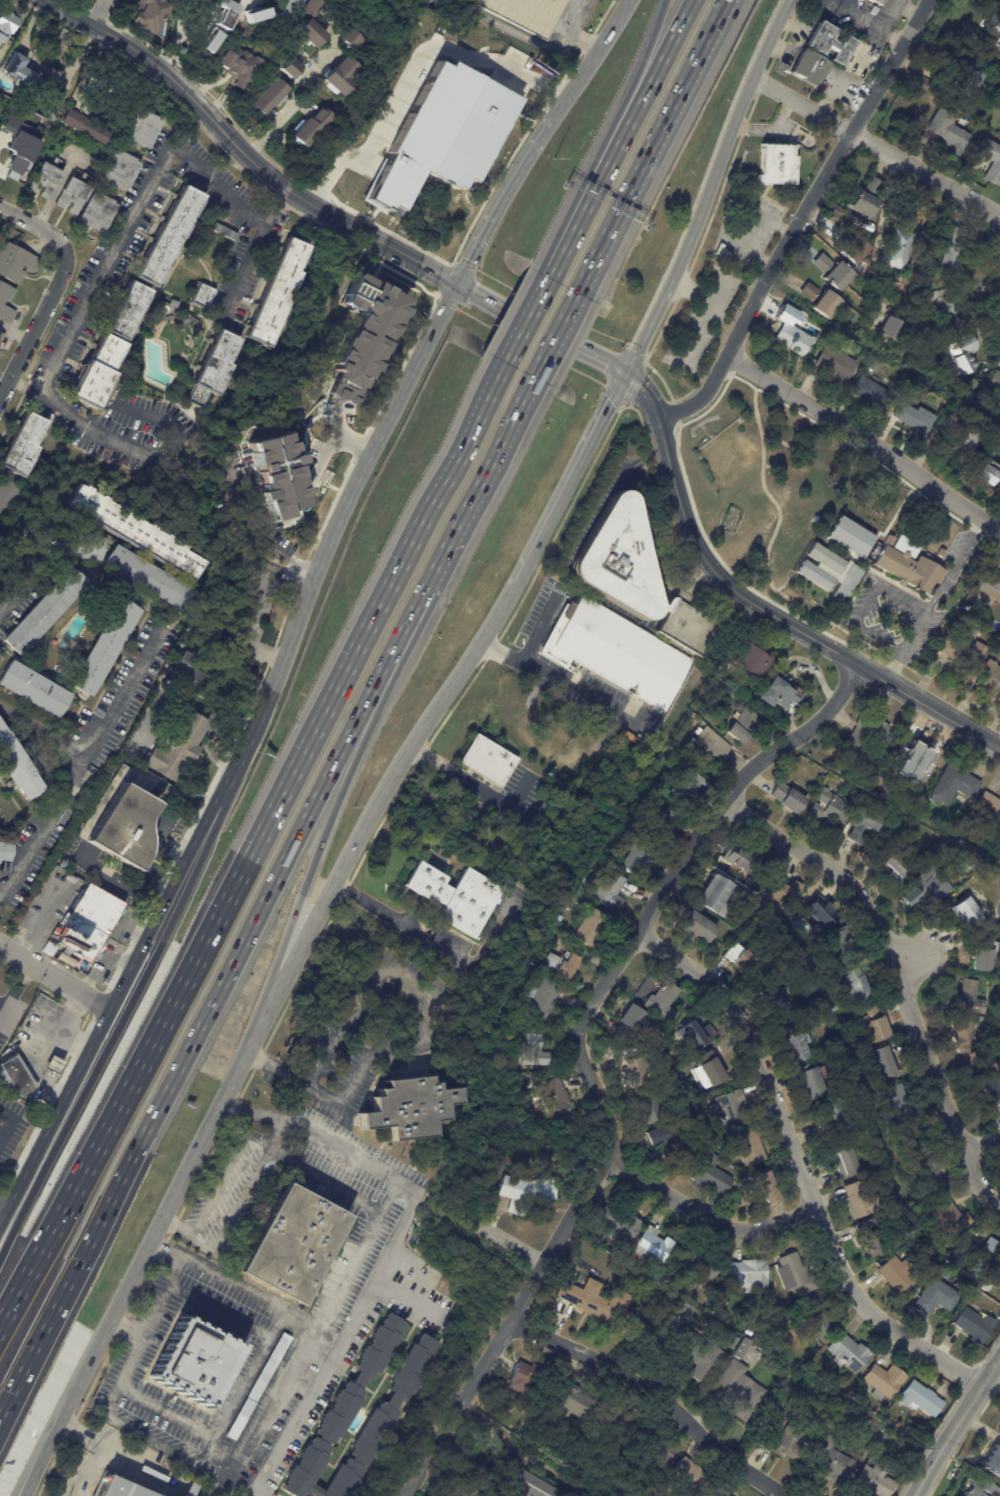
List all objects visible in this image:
road: (249, 1)
building: (879, 2)
building: (314, 7)
building: (289, 9)
building: (224, 13)
building: (149, 14)
building: (527, 14)
road: (573, 14)
road: (107, 15)
building: (255, 15)
building: (995, 22)
building: (7, 25)
building: (311, 33)
road: (176, 35)
building: (351, 40)
building: (210, 41)
road: (582, 41)
building: (832, 43)
road: (592, 60)
road: (417, 65)
building: (238, 66)
building: (811, 67)
road: (639, 68)
building: (291, 69)
road: (655, 69)
building: (25, 75)
building: (961, 76)
building: (341, 77)
building: (101, 84)
building: (999, 84)
building: (271, 96)
building: (56, 103)
road: (290, 103)
building: (71, 106)
building: (84, 127)
road: (220, 127)
building: (310, 128)
building: (143, 129)
building: (29, 131)
building: (949, 132)
building: (451, 134)
building: (999, 138)
road: (876, 145)
road: (654, 147)
building: (9, 160)
building: (991, 160)
building: (778, 165)
building: (120, 171)
building: (45, 180)
road: (708, 186)
building: (73, 196)
building: (866, 199)
road: (502, 200)
road: (587, 203)
building: (97, 213)
road: (801, 221)
road: (39, 224)
building: (224, 231)
building: (170, 237)
building: (852, 249)
building: (953, 251)
building: (723, 253)
building: (895, 253)
building: (16, 263)
road: (426, 268)
road: (241, 269)
building: (832, 273)
traffic signals: (456, 284)
building: (279, 294)
building: (202, 297)
road: (481, 297)
building: (820, 301)
building: (2, 302)
building: (174, 304)
building: (950, 309)
building: (129, 313)
road: (529, 316)
road: (78, 320)
road: (534, 325)
road: (38, 326)
building: (891, 330)
road: (557, 337)
building: (2, 338)
building: (793, 340)
building: (965, 354)
road: (594, 355)
building: (836, 367)
building: (215, 369)
traffic signals: (626, 372)
building: (99, 374)
building: (996, 382)
road: (642, 393)
building: (872, 395)
building: (942, 401)
road: (152, 417)
building: (912, 417)
road: (866, 436)
road: (357, 437)
road: (333, 439)
building: (24, 446)
building: (960, 447)
road: (449, 468)
building: (985, 475)
road: (570, 483)
building: (6, 497)
road: (667, 502)
road: (460, 522)
road: (334, 534)
building: (135, 535)
building: (851, 537)
road: (967, 541)
building: (62, 542)
road: (281, 554)
building: (824, 558)
road: (272, 566)
building: (910, 567)
building: (957, 568)
building: (817, 574)
building: (637, 577)
road: (701, 577)
building: (989, 580)
building: (152, 582)
building: (846, 583)
road: (884, 587)
road: (940, 588)
road: (13, 597)
building: (45, 614)
road: (783, 619)
road: (251, 625)
road: (914, 632)
road: (880, 638)
building: (105, 650)
building: (619, 652)
building: (963, 654)
building: (755, 660)
road: (896, 667)
road: (562, 676)
building: (191, 678)
building: (990, 680)
building: (33, 692)
building: (781, 695)
road: (199, 707)
building: (744, 723)
road: (44, 732)
building: (863, 737)
building: (708, 745)
building: (176, 750)
building: (668, 756)
building: (920, 758)
building: (489, 760)
building: (16, 766)
road: (82, 770)
road: (474, 785)
building: (687, 785)
building: (954, 785)
building: (789, 798)
building: (831, 807)
building: (990, 807)
building: (663, 824)
building: (867, 827)
building: (125, 831)
road: (323, 838)
building: (6, 849)
building: (634, 857)
building: (742, 859)
building: (595, 860)
building: (998, 863)
building: (970, 864)
building: (898, 868)
building: (928, 888)
building: (786, 891)
building: (611, 892)
building: (723, 896)
building: (457, 897)
building: (968, 911)
building: (821, 913)
building: (558, 918)
building: (778, 920)
building: (90, 921)
road: (399, 922)
building: (785, 926)
building: (698, 927)
building: (591, 928)
building: (48, 947)
road: (299, 949)
building: (841, 950)
road: (199, 952)
building: (986, 954)
building: (743, 959)
building: (560, 965)
road: (895, 975)
road: (54, 980)
road: (15, 986)
building: (858, 987)
building: (644, 988)
building: (966, 999)
building: (543, 1000)
building: (662, 1003)
building: (778, 1003)
road: (2, 1005)
parking lot: (5, 1006)
road: (112, 1006)
building: (838, 1006)
building: (36, 1007)
road: (2, 1010)
building: (630, 1023)
road: (430, 1025)
building: (875, 1025)
road: (118, 1028)
building: (697, 1036)
road: (191, 1038)
building: (968, 1042)
building: (796, 1045)
building: (534, 1051)
building: (999, 1060)
building: (887, 1061)
road: (581, 1062)
building: (53, 1066)
building: (709, 1071)
building: (638, 1072)
building: (14, 1078)
building: (812, 1080)
building: (987, 1090)
building: (554, 1096)
building: (895, 1104)
building: (410, 1109)
building: (730, 1109)
building: (647, 1110)
building: (831, 1117)
road: (10, 1122)
parking lot: (14, 1132)
building: (868, 1136)
building: (666, 1139)
road: (272, 1143)
road: (981, 1144)
building: (910, 1145)
building: (749, 1146)
building: (687, 1150)
building: (845, 1161)
road: (797, 1166)
building: (713, 1176)
building: (927, 1177)
road: (329, 1179)
building: (749, 1179)
road: (219, 1183)
building: (752, 1185)
building: (768, 1187)
building: (525, 1194)
building: (860, 1201)
road: (2, 1212)
road: (708, 1219)
building: (949, 1220)
road: (177, 1225)
building: (620, 1225)
building: (911, 1236)
building: (871, 1238)
road: (508, 1244)
building: (293, 1245)
road: (363, 1246)
building: (655, 1248)
building: (934, 1250)
building: (981, 1258)
building: (702, 1267)
building: (997, 1270)
building: (750, 1274)
building: (796, 1275)
building: (897, 1275)
building: (584, 1277)
building: (669, 1278)
building: (987, 1287)
road: (249, 1291)
road: (161, 1297)
building: (936, 1299)
building: (596, 1302)
building: (992, 1308)
building: (999, 1318)
building: (815, 1319)
building: (975, 1326)
building: (748, 1332)
road: (340, 1338)
building: (743, 1344)
building: (847, 1351)
building: (698, 1354)
building: (759, 1354)
building: (197, 1364)
road: (125, 1372)
building: (523, 1378)
building: (885, 1382)
building: (259, 1388)
road: (73, 1391)
building: (737, 1392)
road: (657, 1394)
building: (921, 1399)
building: (523, 1403)
building: (573, 1404)
building: (344, 1407)
road: (164, 1410)
building: (764, 1421)
building: (615, 1422)
road: (955, 1423)
building: (910, 1432)
building: (785, 1443)
building: (650, 1447)
road: (103, 1449)
road: (525, 1454)
building: (994, 1459)
building: (831, 1461)
building: (167, 1463)
building: (690, 1478)
road: (26, 1480)
road: (31, 1480)
building: (876, 1480)
building: (532, 1487)
building: (977, 1487)
building: (118, 1488)
building: (460, 1489)
building: (452, 1493)
building: (997, 1493)
building: (716, 1495)

